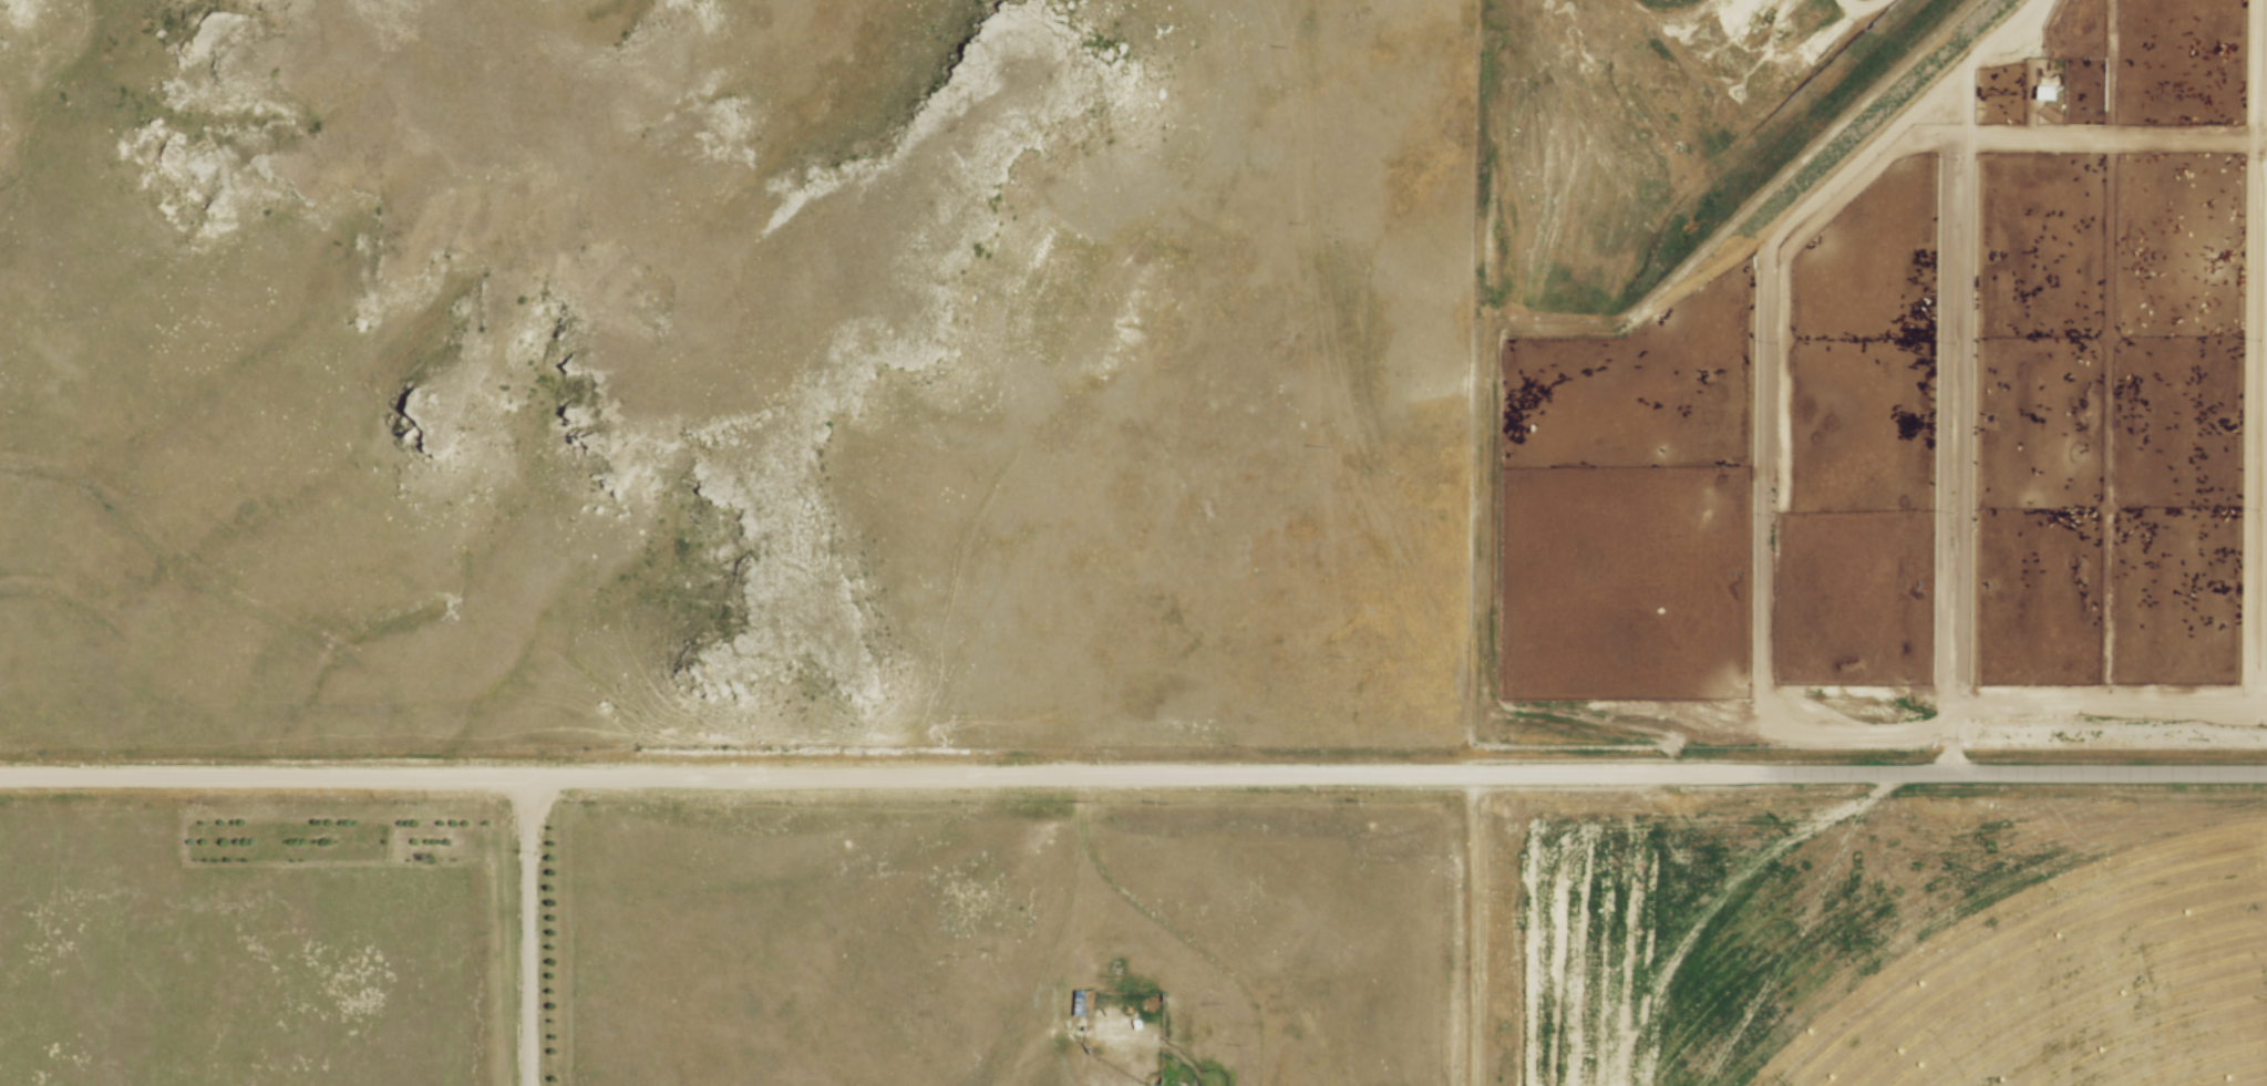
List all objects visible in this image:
road: (2075, 139)
road: (2253, 351)
road: (1762, 400)
road: (2073, 702)
road: (2013, 776)
road: (880, 777)
road: (523, 933)
crop: (2073, 984)
building: (1081, 1002)

